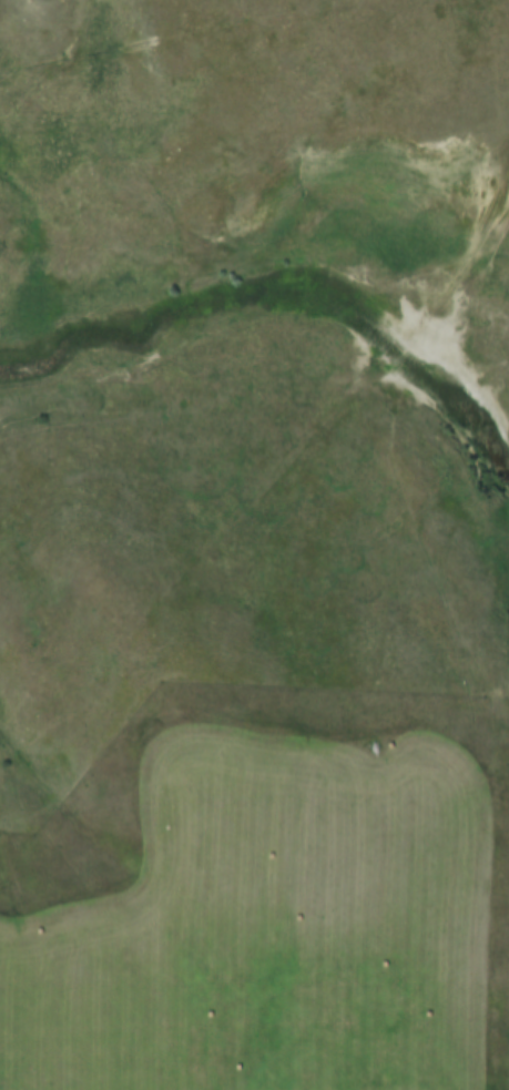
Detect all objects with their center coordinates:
road: (508, 1087)

